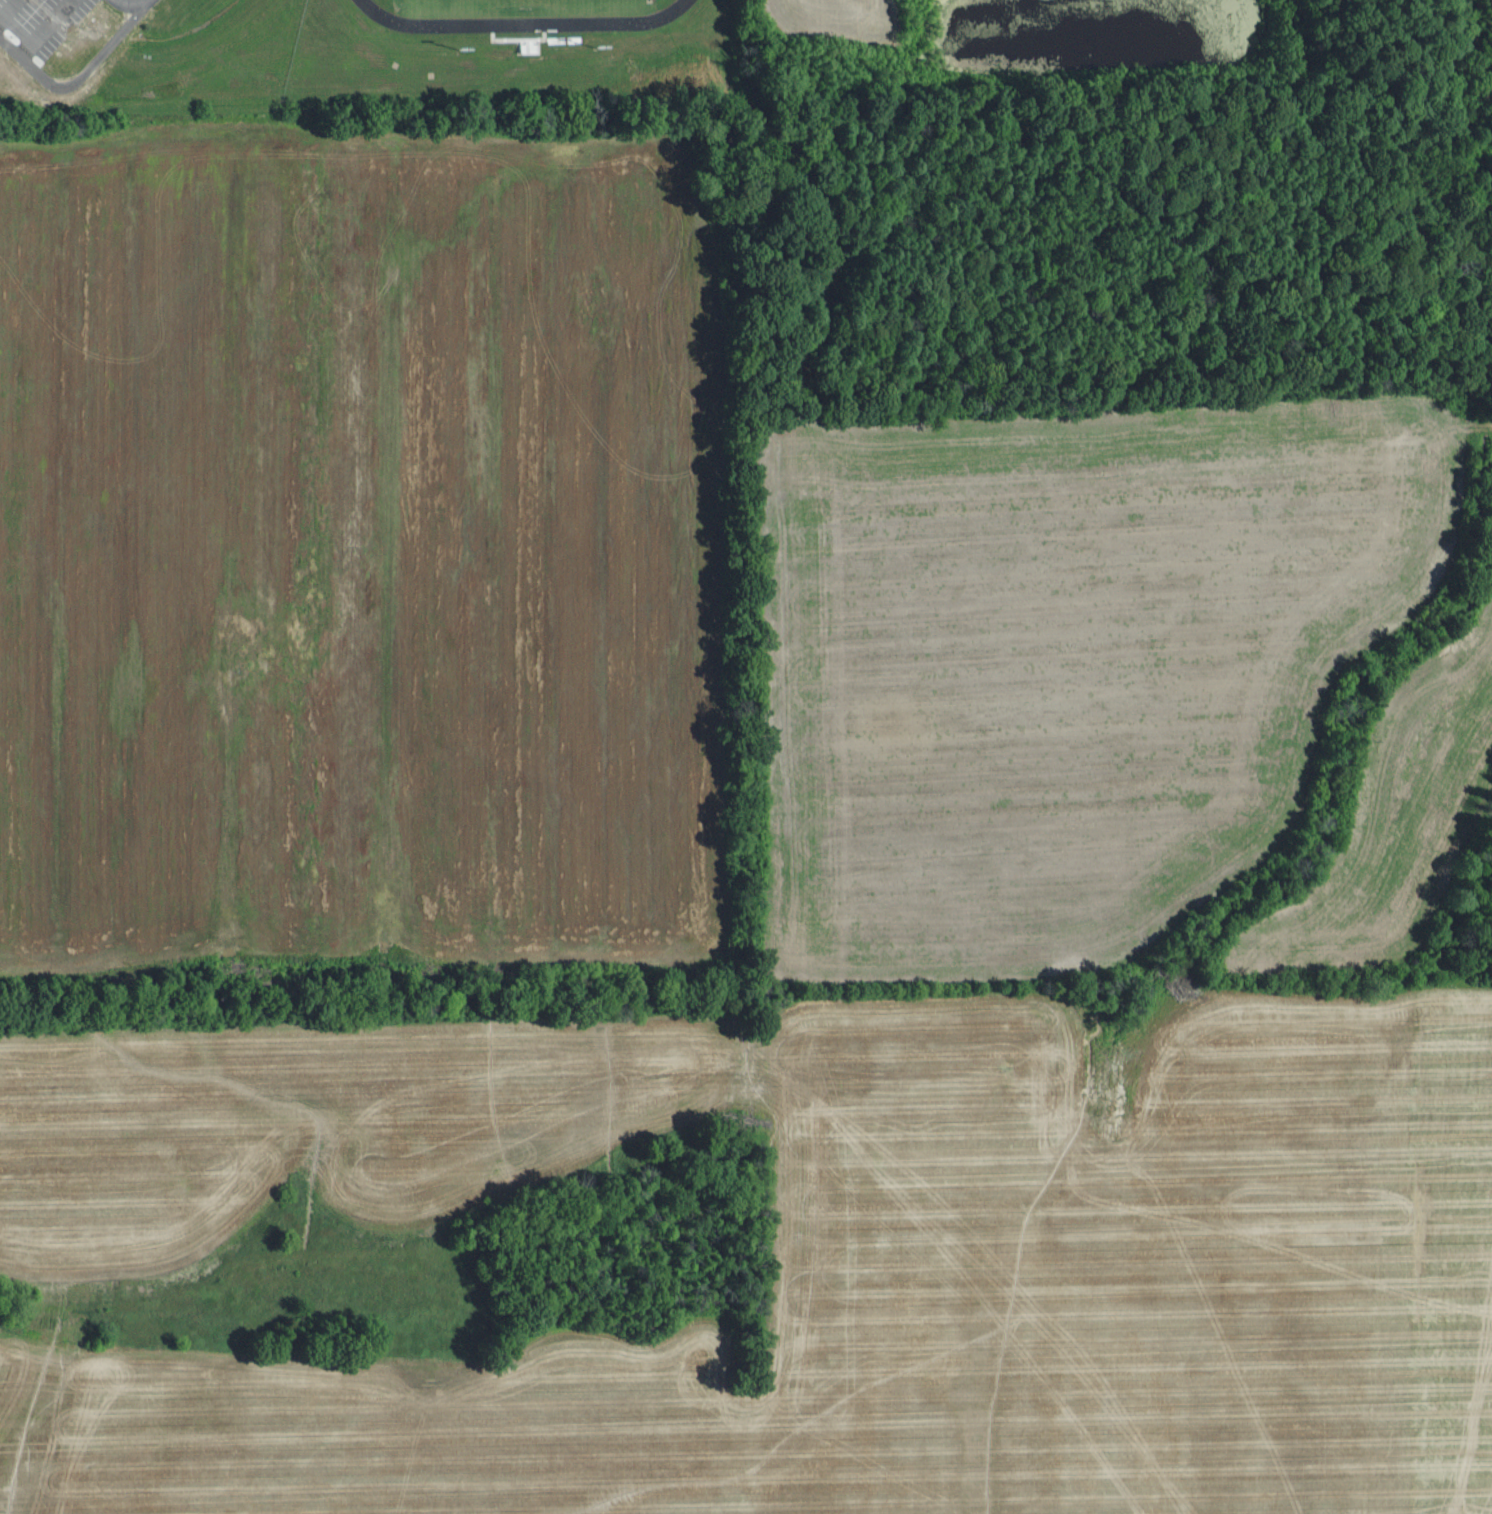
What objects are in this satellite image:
road: (133, 0)
park: (520, 4)
track: (531, 15)

